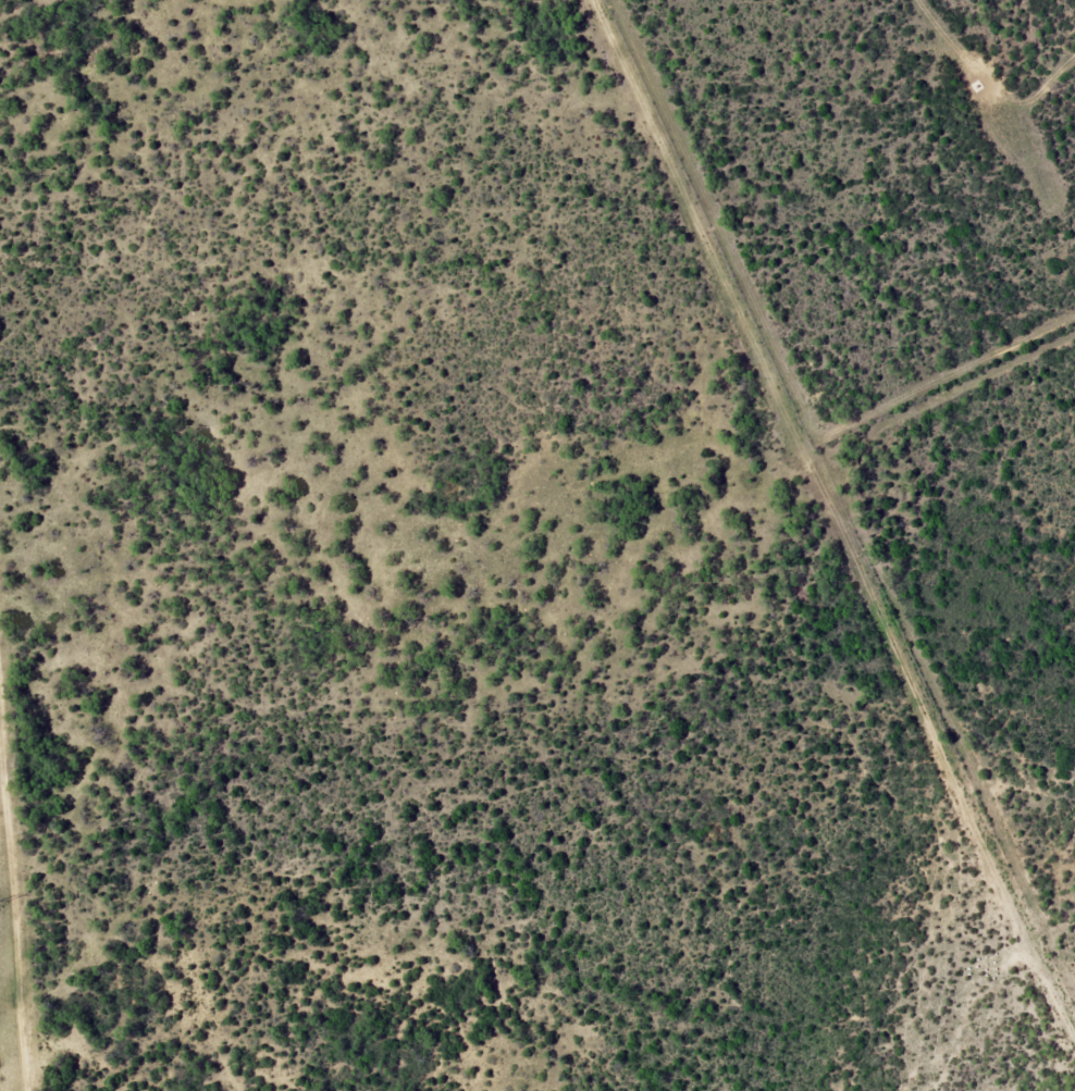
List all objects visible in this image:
road: (765, 373)
road: (947, 780)
power tower: (1, 901)

